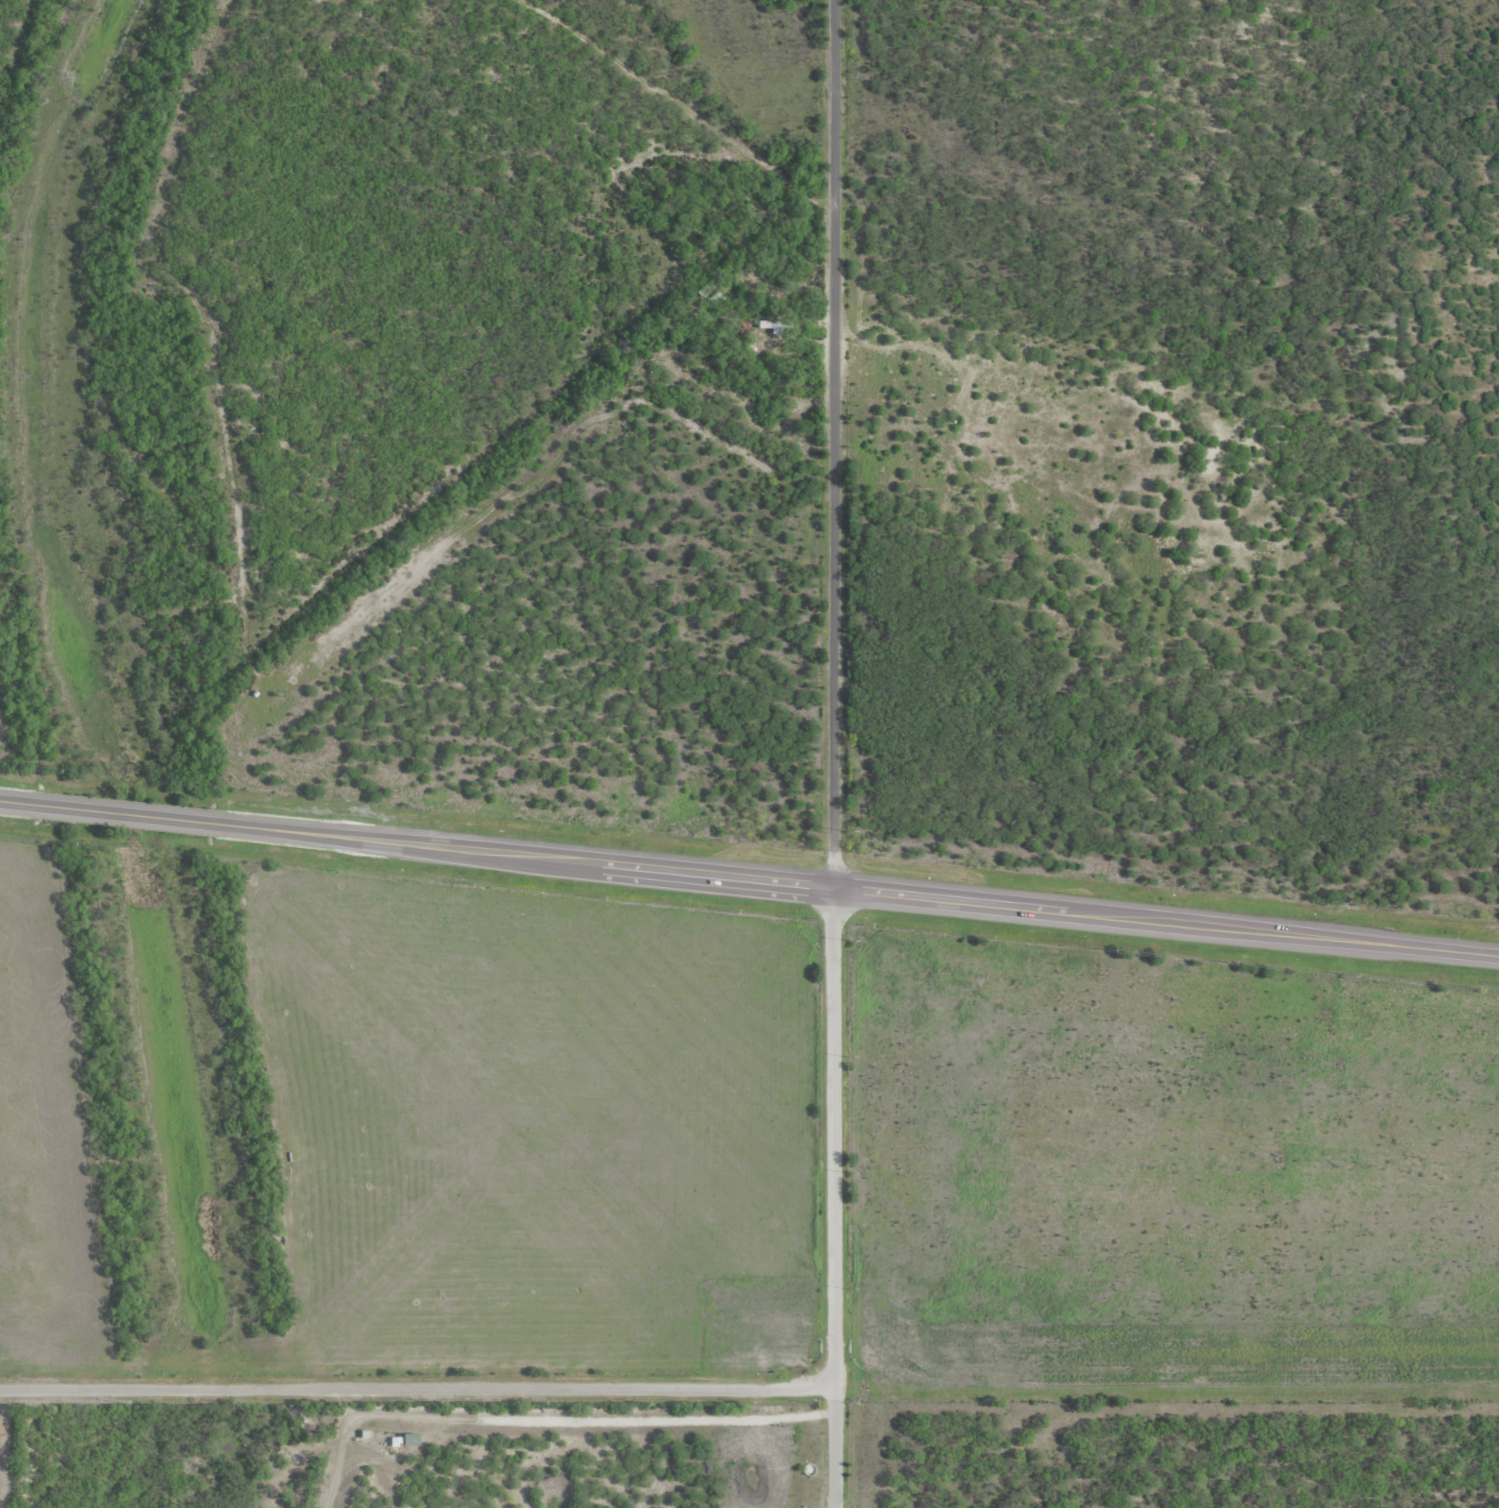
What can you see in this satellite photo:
building: (704, 290)
building: (714, 296)
building: (775, 323)
building: (744, 327)
road: (832, 443)
road: (749, 878)
road: (829, 1197)
road: (415, 1391)

